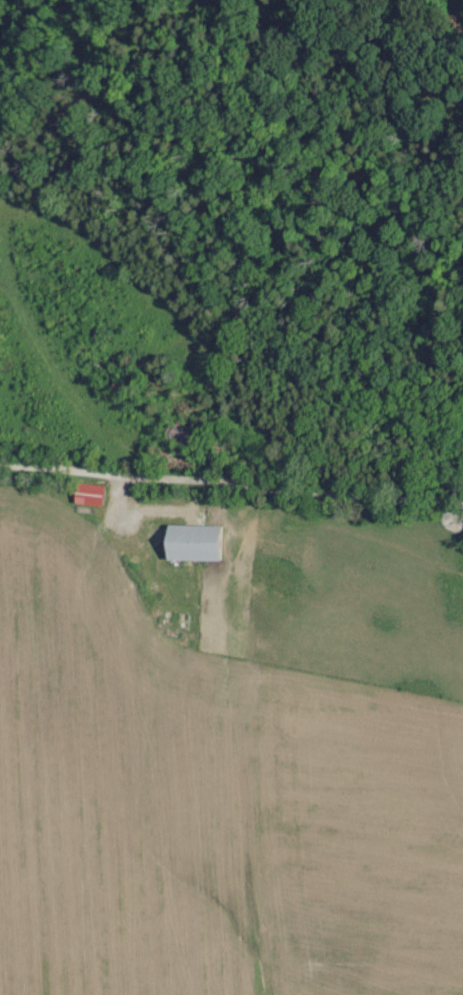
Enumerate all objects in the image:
building: (89, 495)
road: (230, 495)
building: (193, 544)

